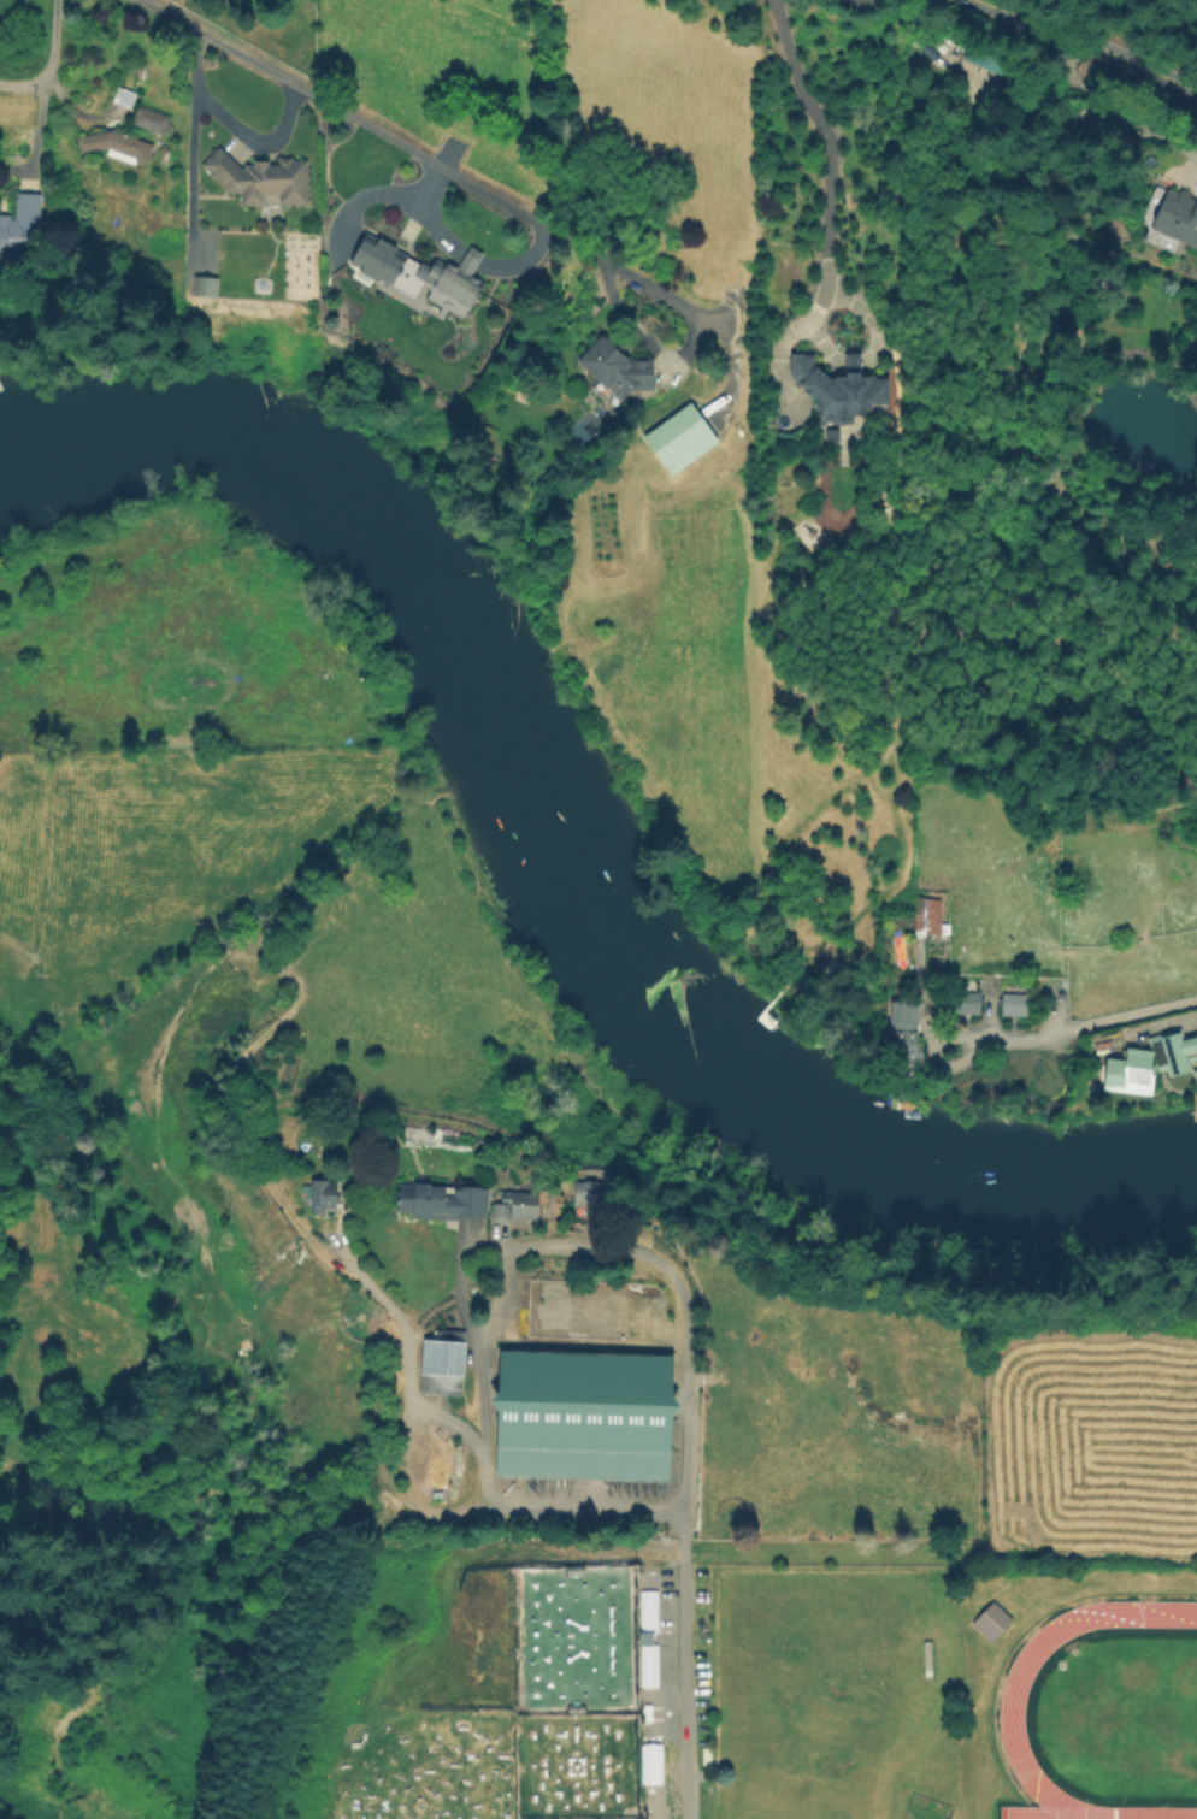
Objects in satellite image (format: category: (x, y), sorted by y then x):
road: (52, 30)
road: (1086, 43)
building: (986, 59)
road: (33, 85)
building: (125, 96)
road: (1132, 108)
road: (337, 113)
building: (152, 118)
road: (249, 142)
building: (117, 146)
road: (190, 150)
building: (166, 155)
road: (824, 163)
building: (263, 178)
road: (366, 203)
building: (1178, 217)
building: (22, 231)
building: (391, 262)
building: (458, 278)
building: (385, 280)
building: (206, 287)
road: (666, 300)
building: (618, 373)
building: (836, 397)
building: (825, 431)
building: (678, 438)
river: (336, 471)
building: (925, 916)
building: (965, 1003)
building: (1010, 1004)
building: (902, 1032)
road: (1045, 1035)
building: (1179, 1052)
building: (1128, 1070)
building: (1193, 1079)
river: (794, 1093)
building: (415, 1134)
building: (590, 1193)
building: (324, 1195)
building: (443, 1201)
building: (515, 1207)
road: (497, 1297)
building: (444, 1363)
building: (583, 1416)
road: (685, 1436)
road: (482, 1475)
building: (647, 1611)
building: (987, 1619)
building: (647, 1665)
track: (1012, 1717)
park: (1143, 1717)
building: (649, 1764)

